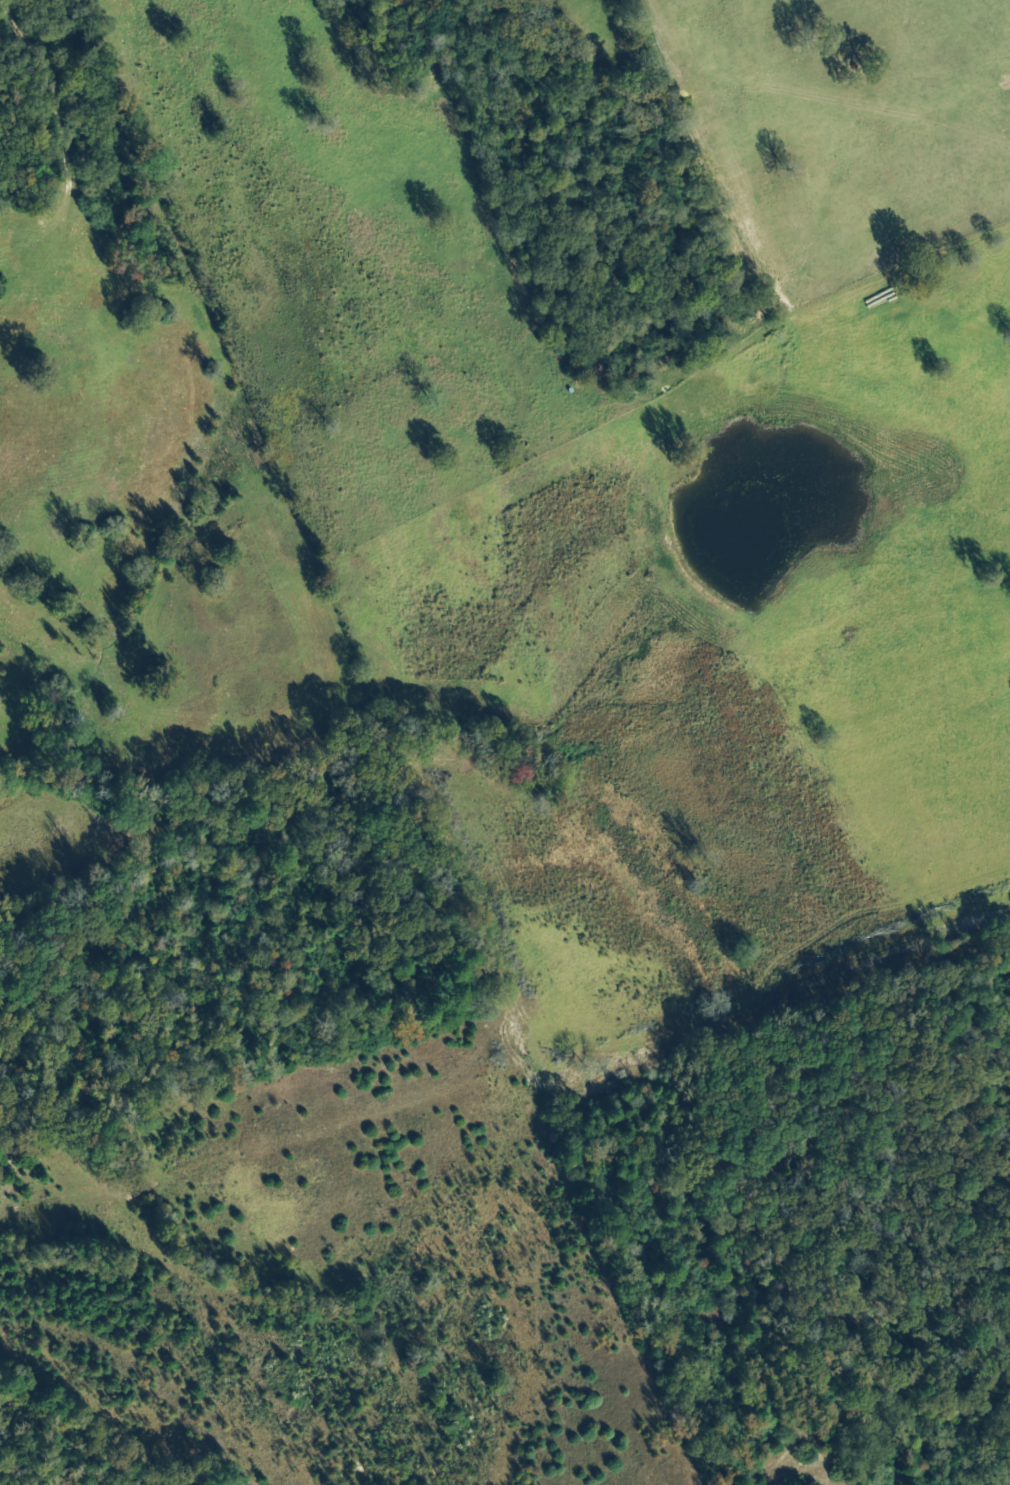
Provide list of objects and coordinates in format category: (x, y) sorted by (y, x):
road: (877, 124)

